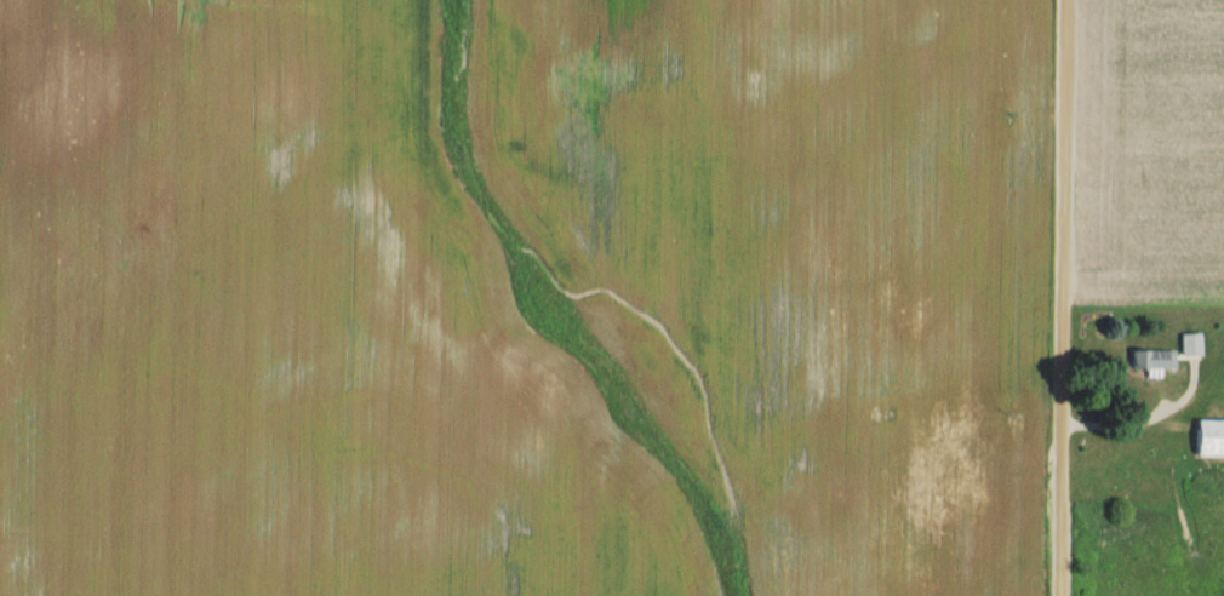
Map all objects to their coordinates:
road: (1051, 298)
building: (1190, 350)
building: (1152, 360)
building: (1211, 440)

